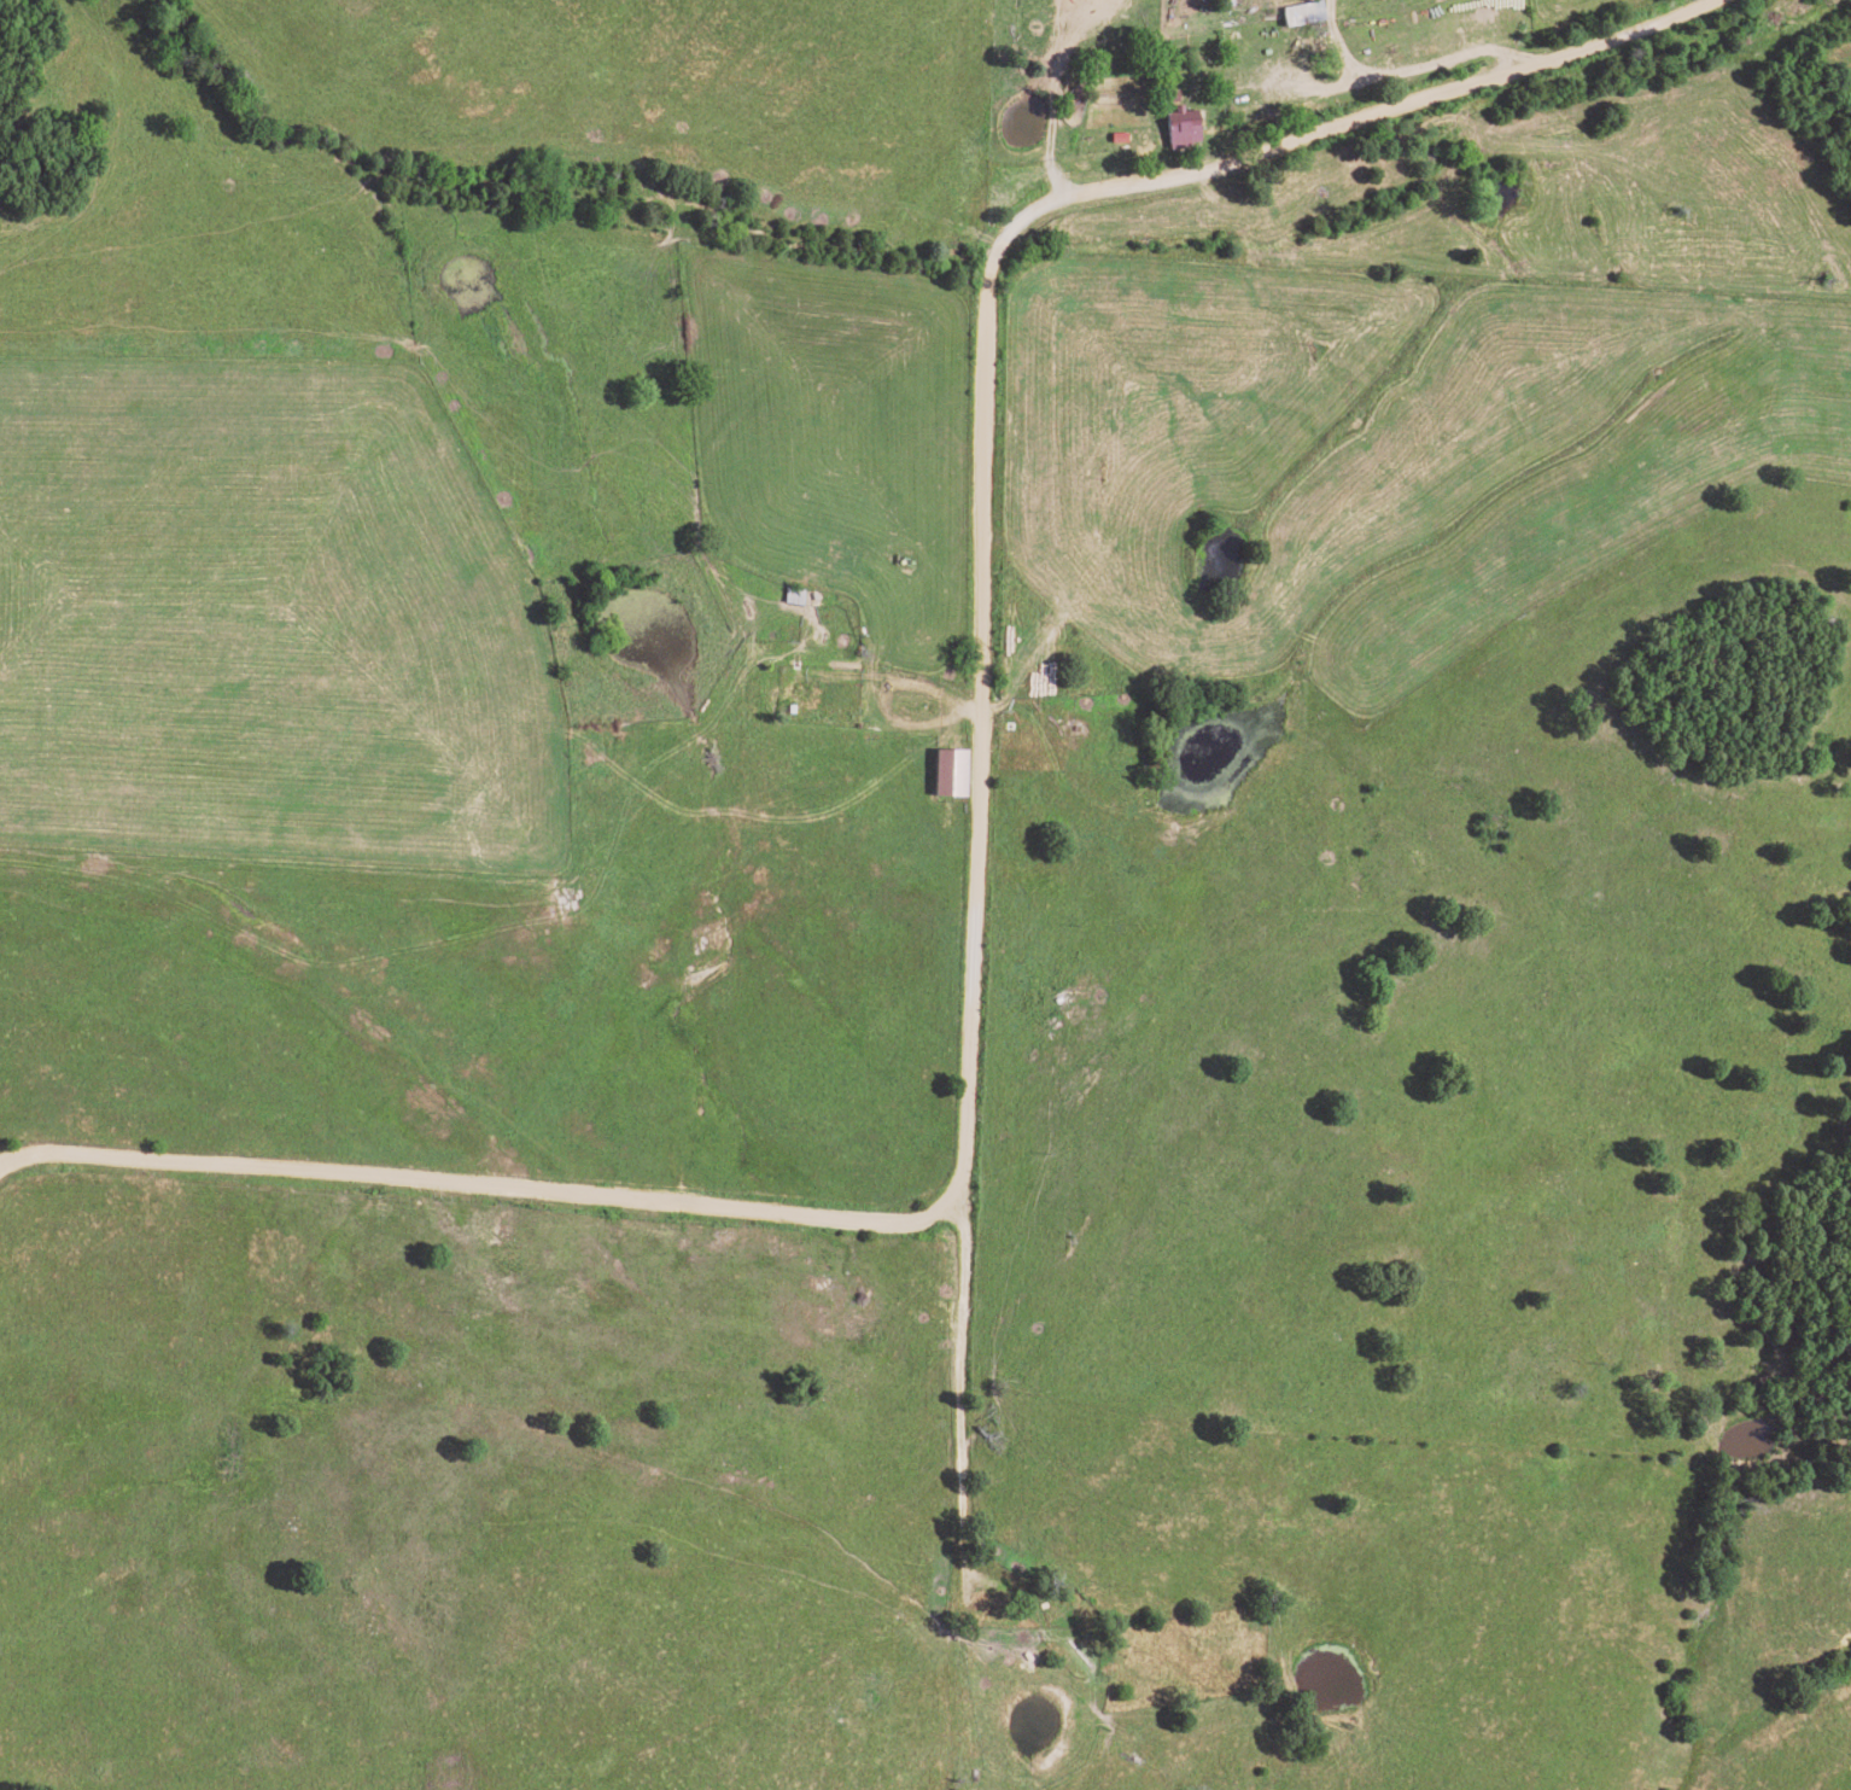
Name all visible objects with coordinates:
building: (1300, 13)
building: (1179, 128)
building: (946, 771)
building: (923, 776)
road: (980, 826)
road: (962, 1390)

